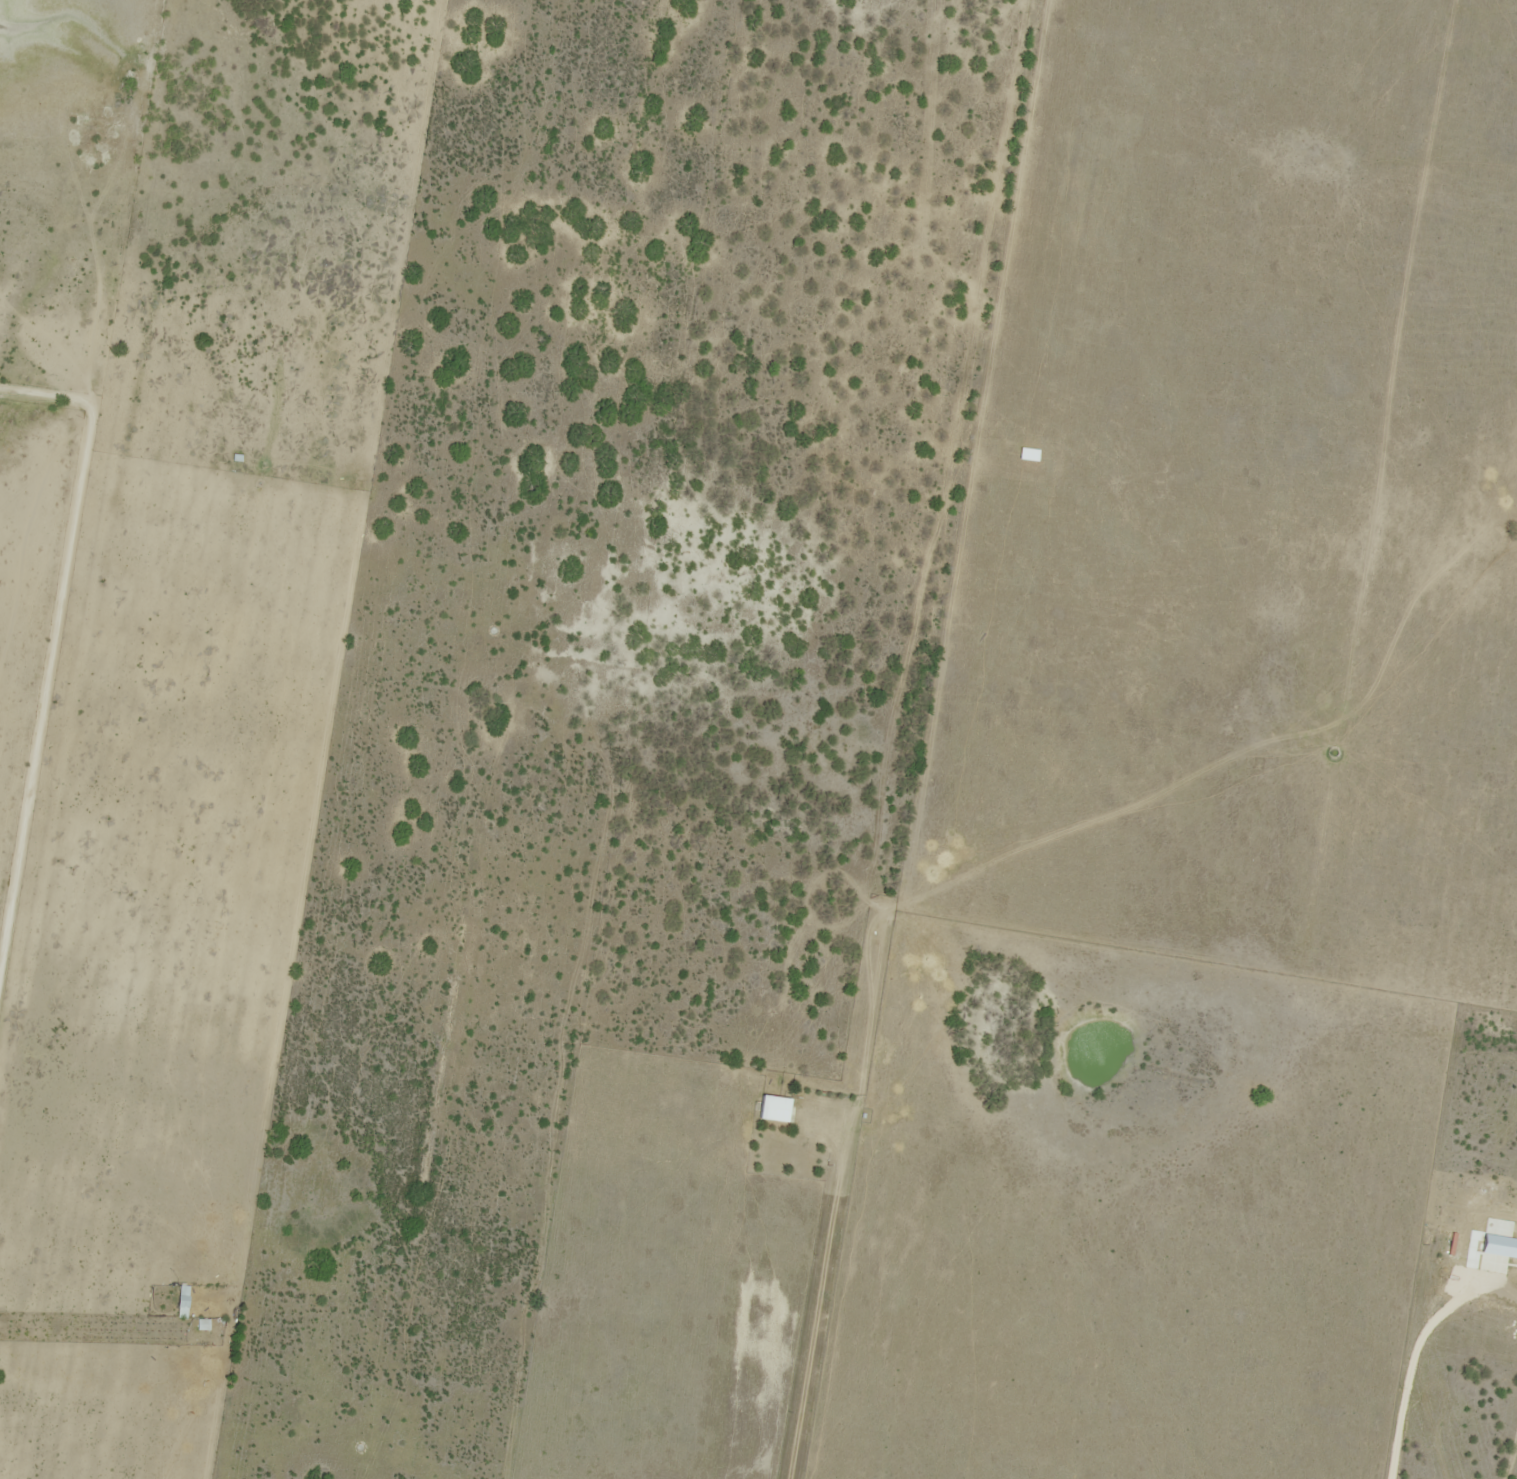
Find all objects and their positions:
road: (81, 489)
building: (775, 1108)

